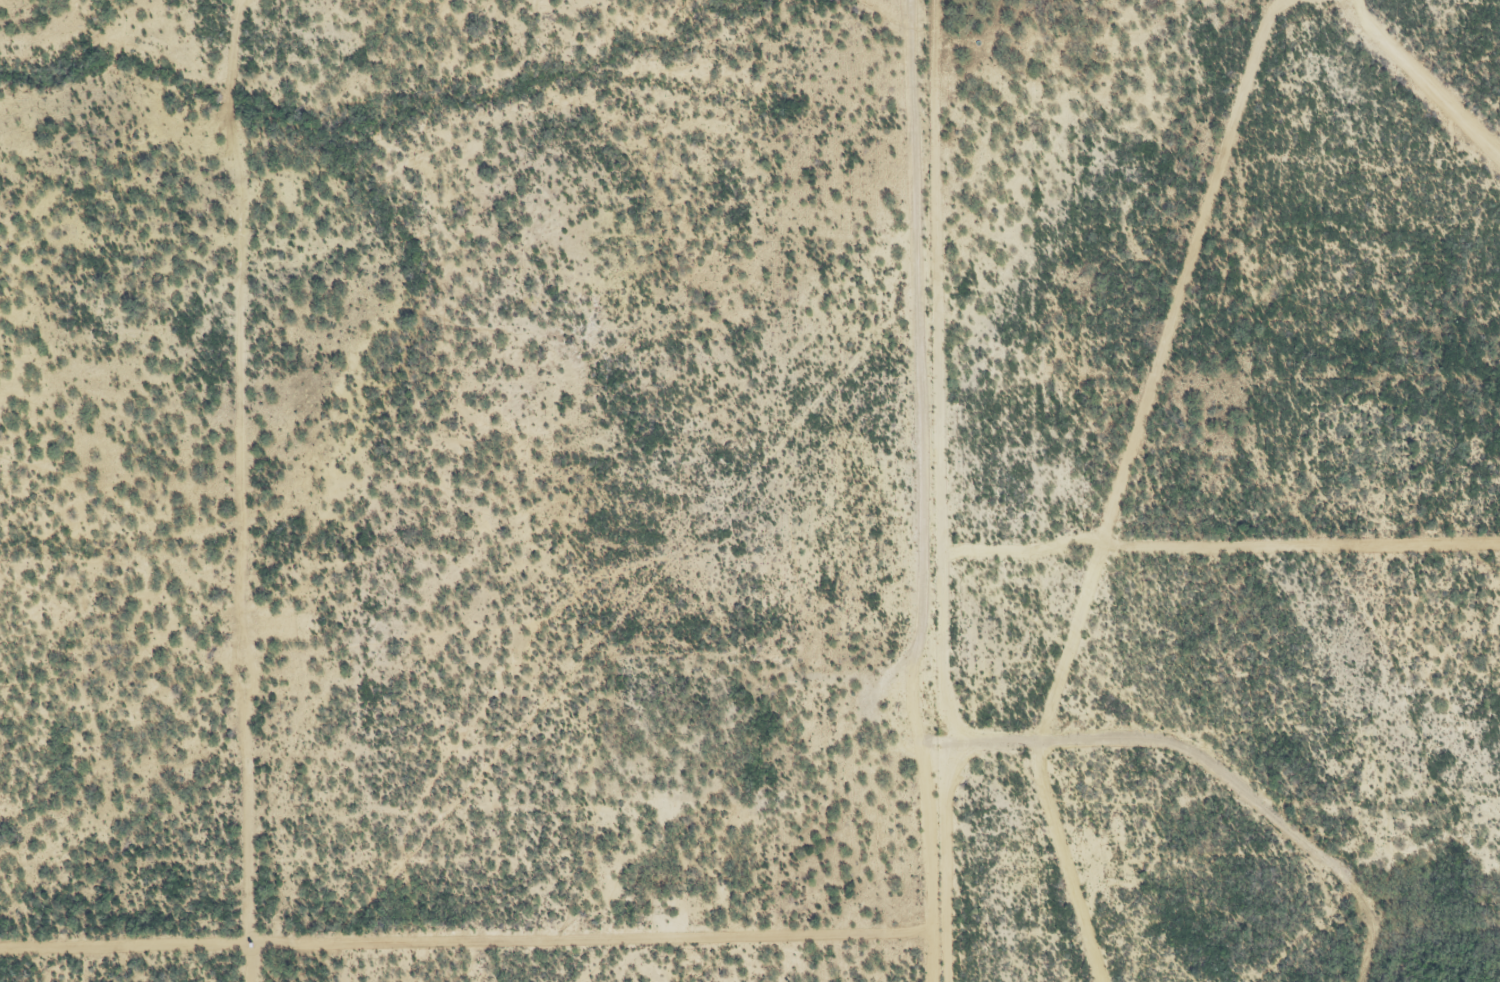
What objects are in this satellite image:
road: (1292, 473)

